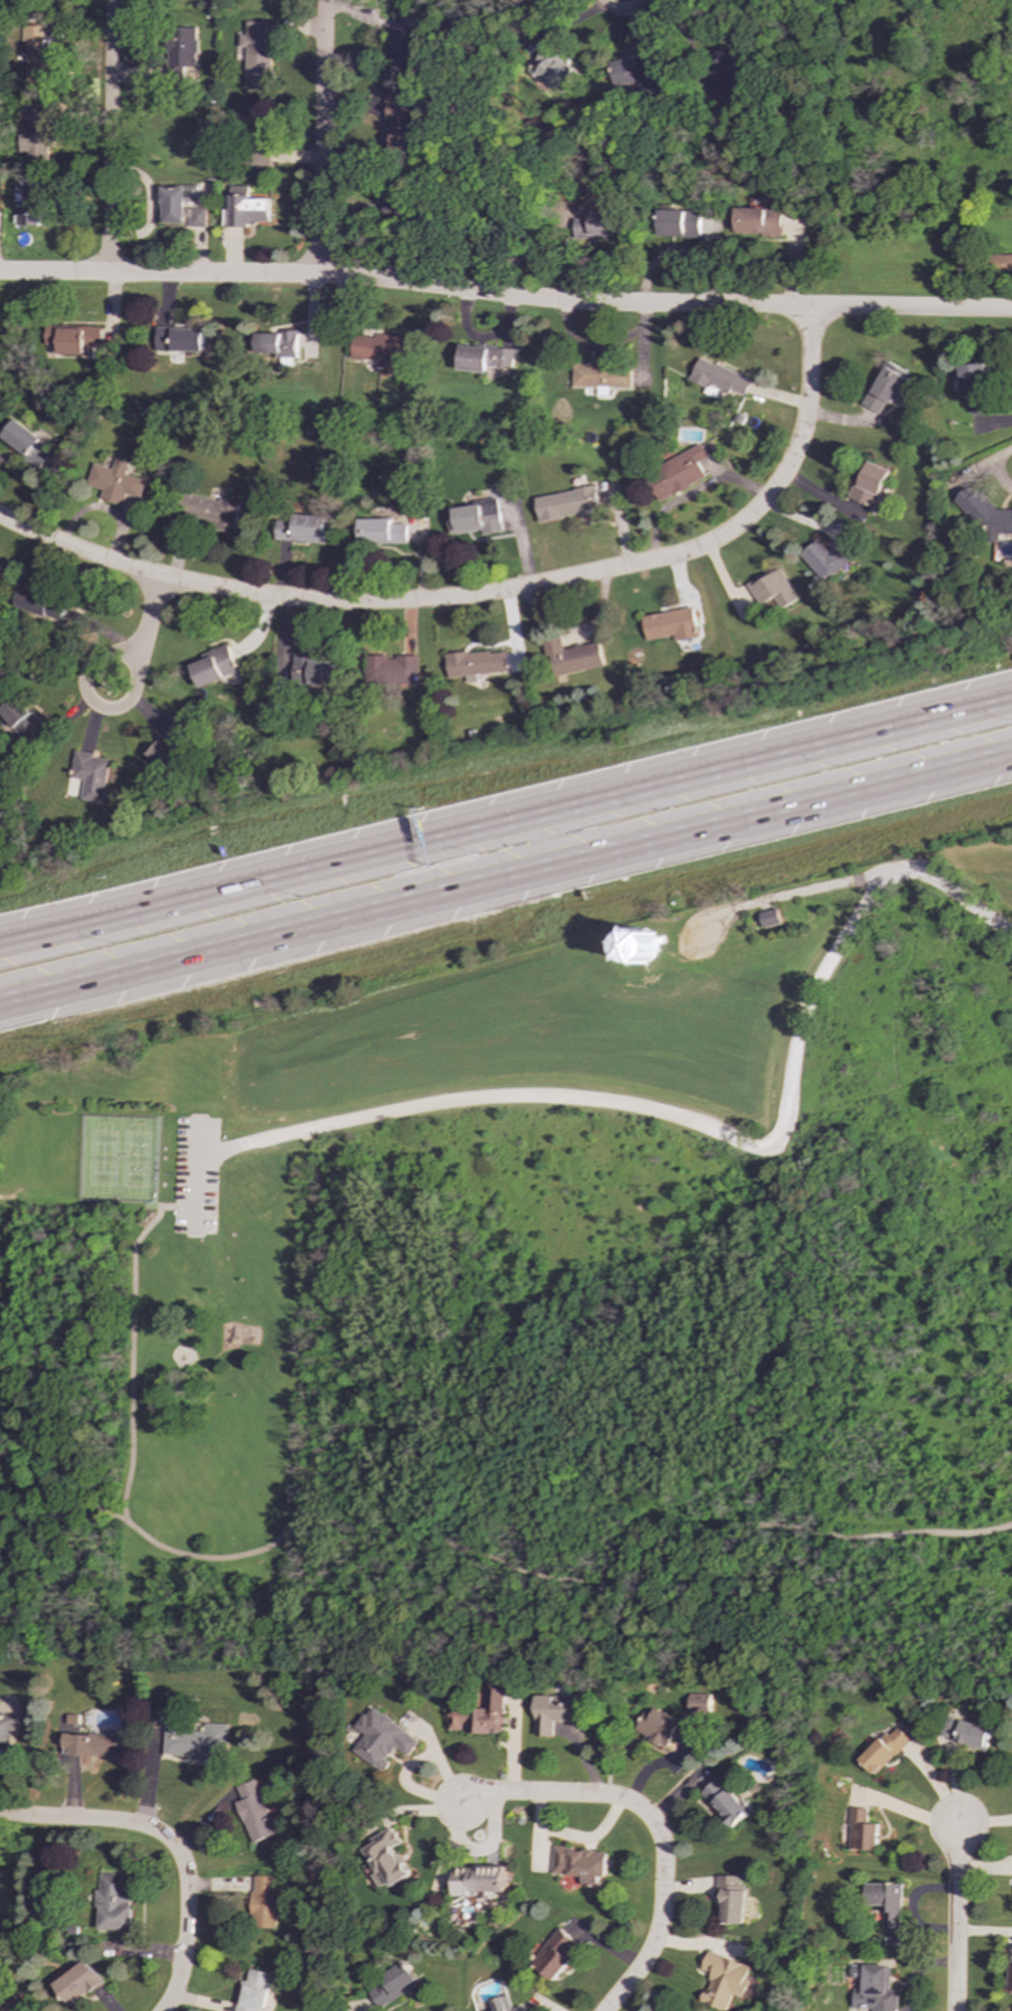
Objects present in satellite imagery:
building: (524, 0)
road: (622, 11)
building: (404, 42)
building: (183, 51)
building: (38, 55)
building: (256, 56)
building: (552, 71)
building: (633, 71)
building: (399, 119)
building: (251, 122)
building: (37, 133)
road: (108, 136)
road: (320, 136)
building: (260, 156)
building: (31, 202)
building: (181, 206)
building: (394, 207)
building: (246, 209)
building: (758, 221)
building: (679, 223)
building: (598, 225)
building: (1003, 263)
road: (505, 296)
building: (74, 339)
building: (179, 339)
building: (278, 346)
building: (381, 352)
building: (485, 358)
building: (600, 375)
building: (718, 378)
building: (973, 385)
building: (885, 387)
road: (805, 413)
building: (27, 443)
building: (677, 474)
building: (116, 482)
building: (869, 484)
building: (569, 504)
building: (211, 512)
building: (985, 516)
building: (476, 518)
building: (302, 530)
building: (382, 531)
road: (78, 550)
building: (827, 557)
building: (773, 591)
road: (467, 596)
building: (42, 605)
road: (151, 609)
building: (671, 625)
building: (572, 657)
building: (476, 664)
road: (88, 667)
building: (214, 667)
building: (313, 670)
building: (391, 671)
building: (22, 718)
building: (169, 748)
building: (92, 776)
road: (506, 820)
road: (548, 839)
road: (506, 878)
road: (790, 892)
building: (770, 918)
water tower: (641, 943)
building: (641, 946)
road: (706, 1127)
park: (119, 1160)
road: (197, 1177)
parking lot: (195, 1178)
road: (916, 1253)
park: (540, 1305)
road: (134, 1343)
road: (495, 1561)
road: (612, 1689)
building: (699, 1706)
building: (553, 1713)
building: (480, 1715)
building: (5, 1727)
building: (665, 1728)
building: (964, 1733)
building: (382, 1739)
building: (196, 1741)
building: (92, 1745)
building: (882, 1750)
road: (534, 1794)
building: (725, 1802)
building: (254, 1811)
road: (77, 1819)
building: (860, 1831)
building: (388, 1859)
building: (581, 1864)
building: (484, 1883)
road: (663, 1897)
building: (732, 1900)
building: (264, 1902)
building: (885, 1902)
building: (114, 1903)
road: (955, 1914)
road: (185, 1916)
building: (555, 1955)
building: (1010, 1974)
building: (728, 1981)
building: (78, 1983)
building: (392, 1985)
building: (254, 1991)
building: (502, 2004)

